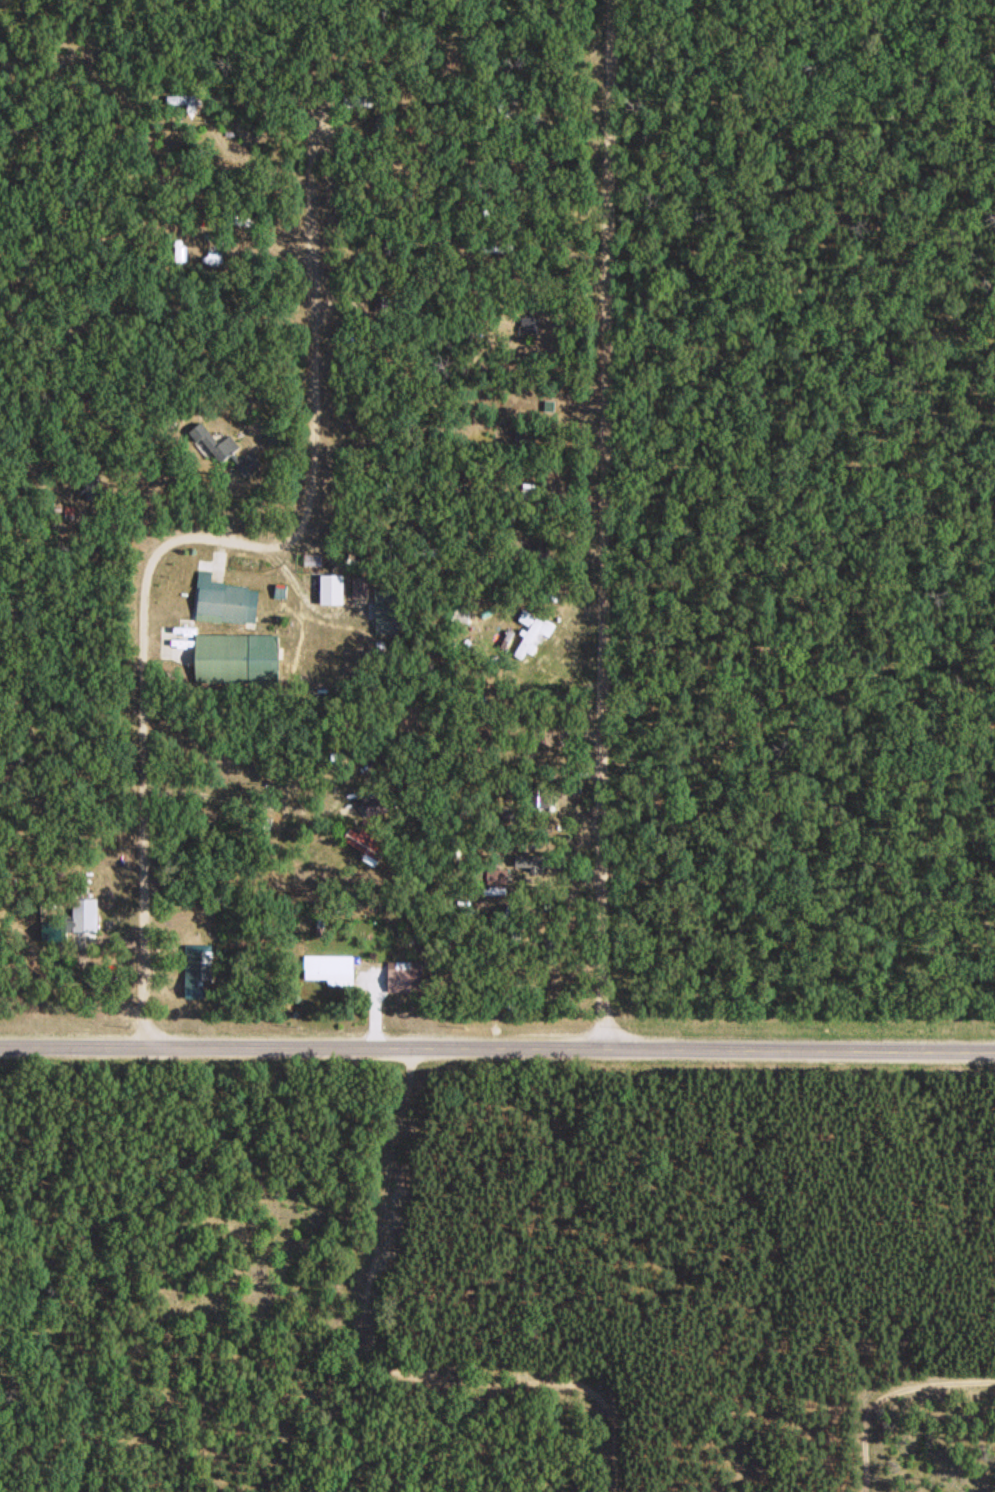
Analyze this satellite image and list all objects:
building: (365, 99)
road: (460, 149)
building: (528, 322)
building: (563, 399)
building: (213, 442)
building: (91, 484)
road: (600, 523)
road: (202, 536)
building: (222, 600)
building: (529, 635)
building: (233, 657)
building: (544, 734)
building: (538, 795)
building: (373, 801)
building: (363, 843)
building: (528, 859)
building: (493, 876)
building: (82, 914)
building: (48, 930)
building: (196, 966)
building: (327, 966)
building: (401, 975)
road: (497, 1046)

